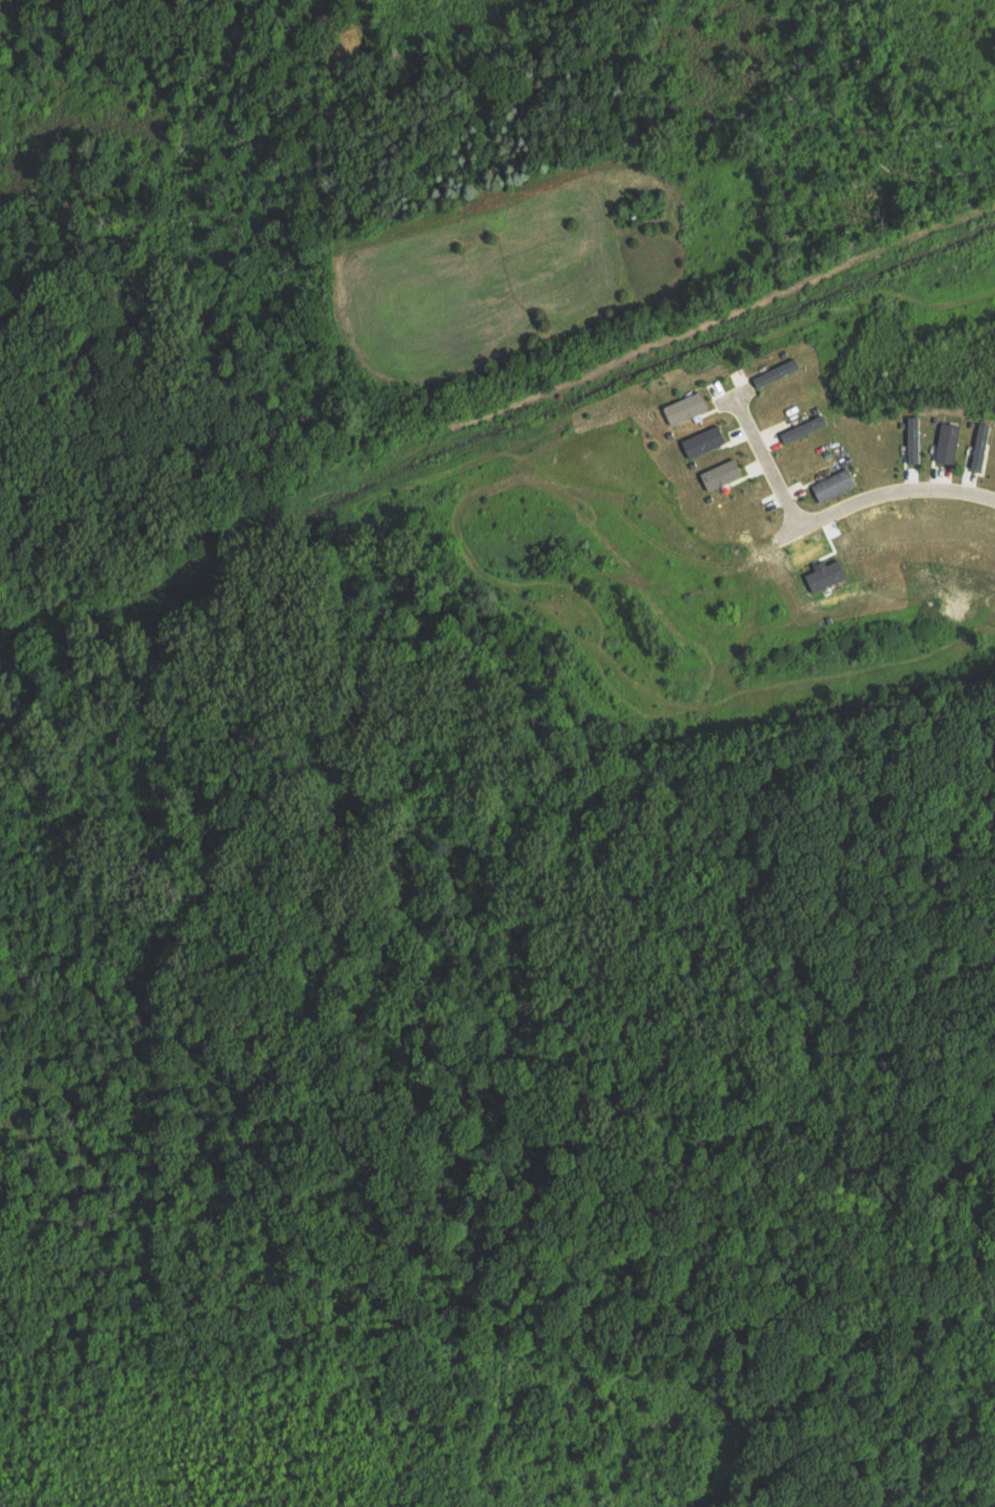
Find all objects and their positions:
building: (773, 372)
building: (681, 406)
building: (799, 428)
building: (911, 438)
building: (700, 439)
building: (945, 442)
building: (977, 445)
road: (767, 464)
building: (716, 473)
building: (829, 483)
road: (879, 495)
building: (821, 572)

